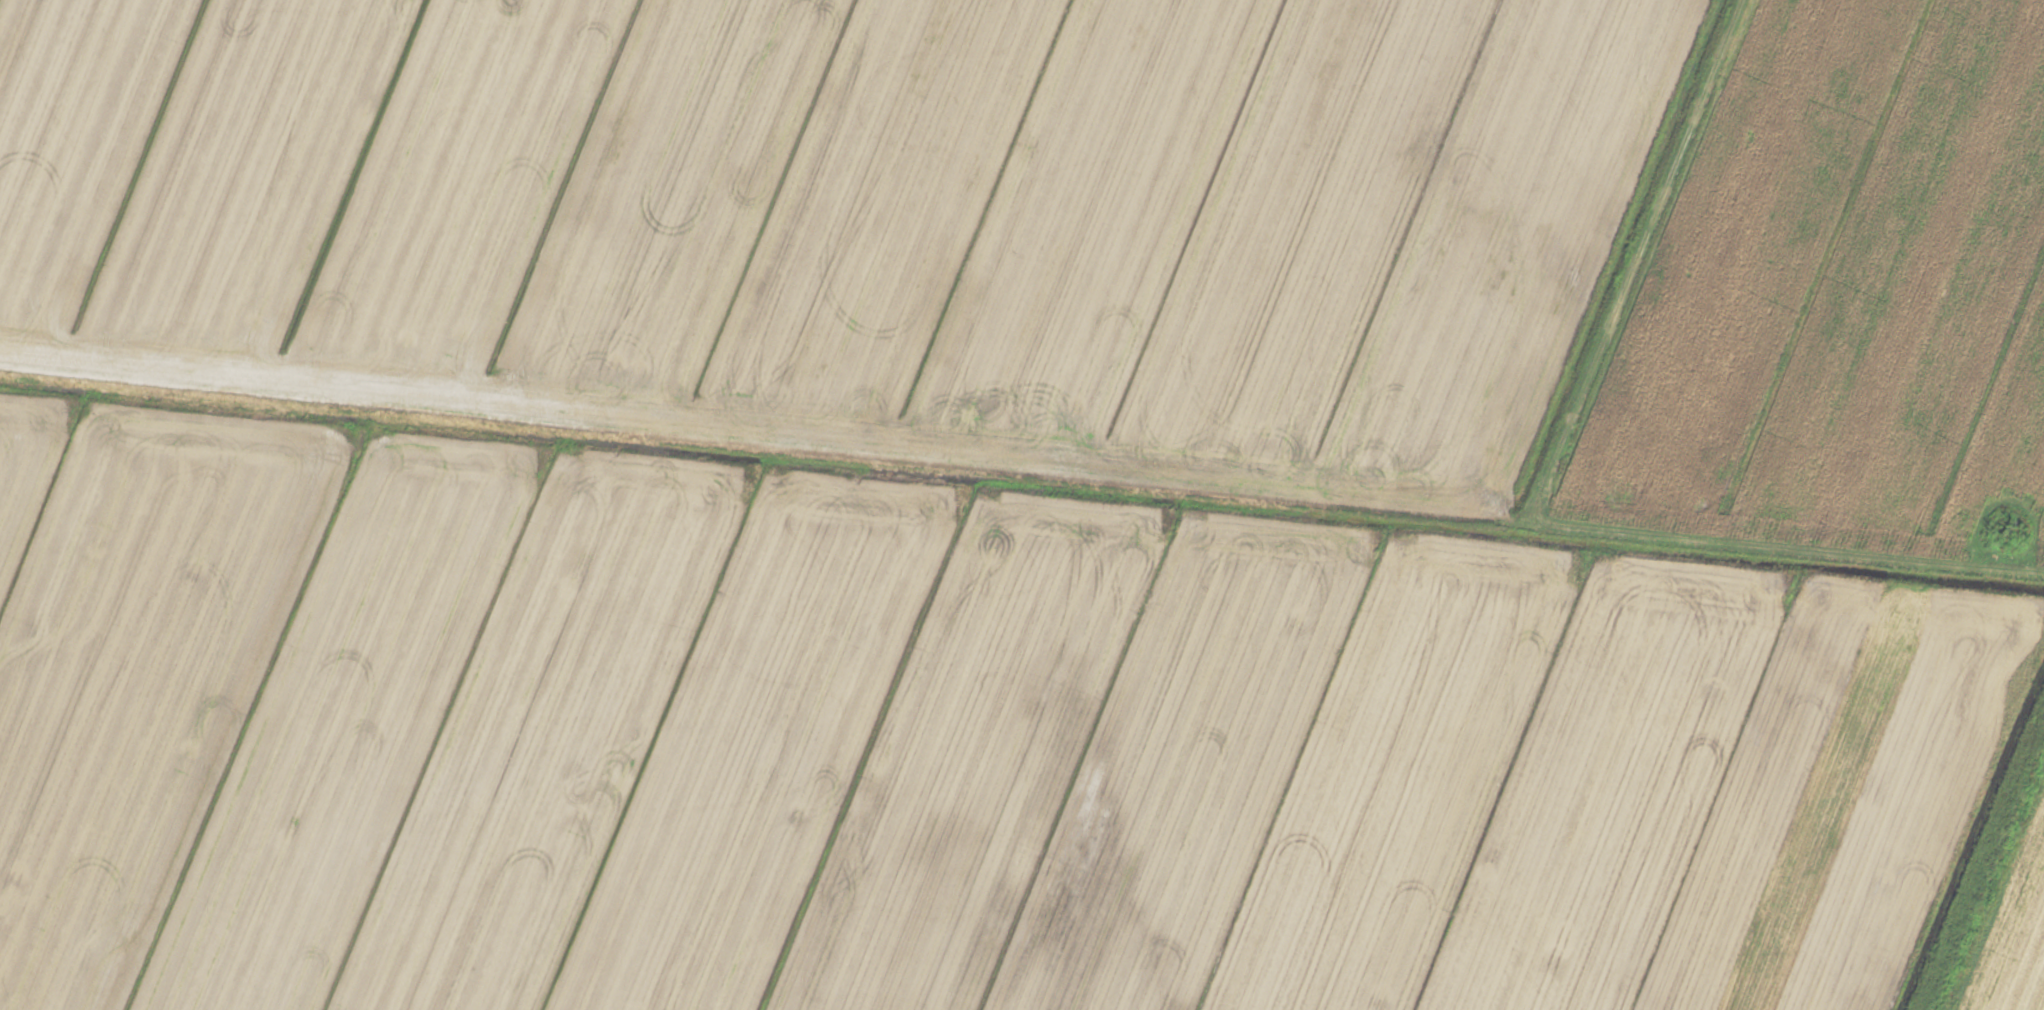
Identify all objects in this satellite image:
road: (1022, 464)
crop: (1022, 505)

